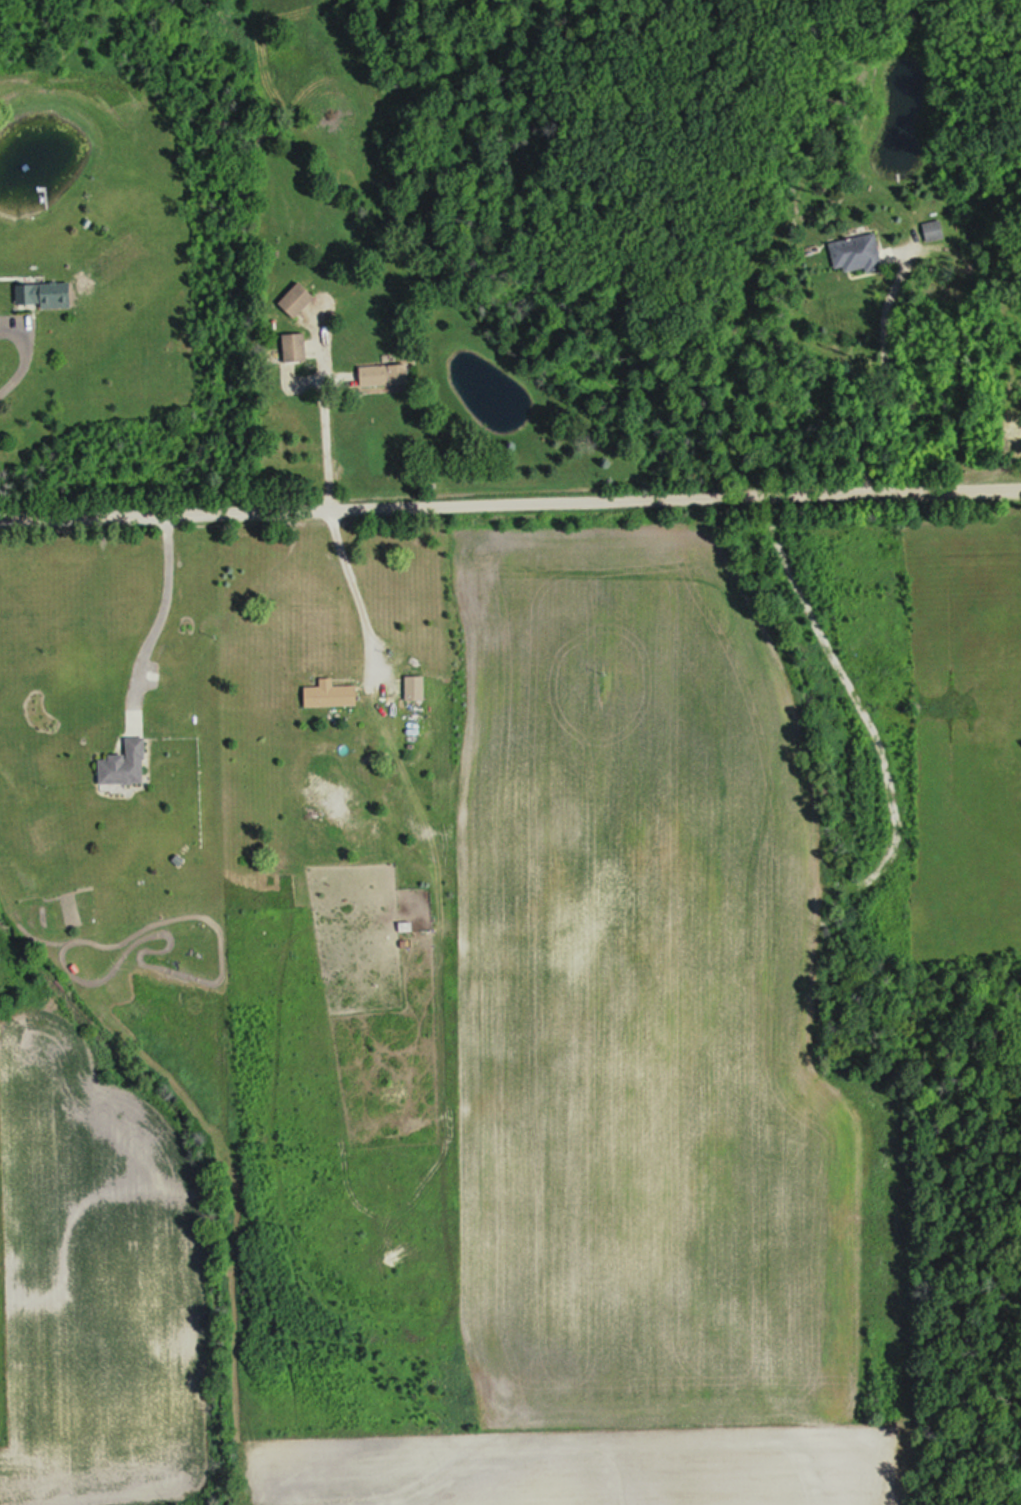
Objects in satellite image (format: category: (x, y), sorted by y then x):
building: (934, 232)
building: (858, 254)
building: (45, 296)
building: (299, 301)
road: (16, 349)
building: (296, 350)
road: (885, 369)
building: (385, 377)
road: (320, 412)
road: (510, 503)
road: (350, 598)
road: (147, 618)
building: (415, 690)
building: (331, 697)
road: (568, 710)
building: (126, 766)

